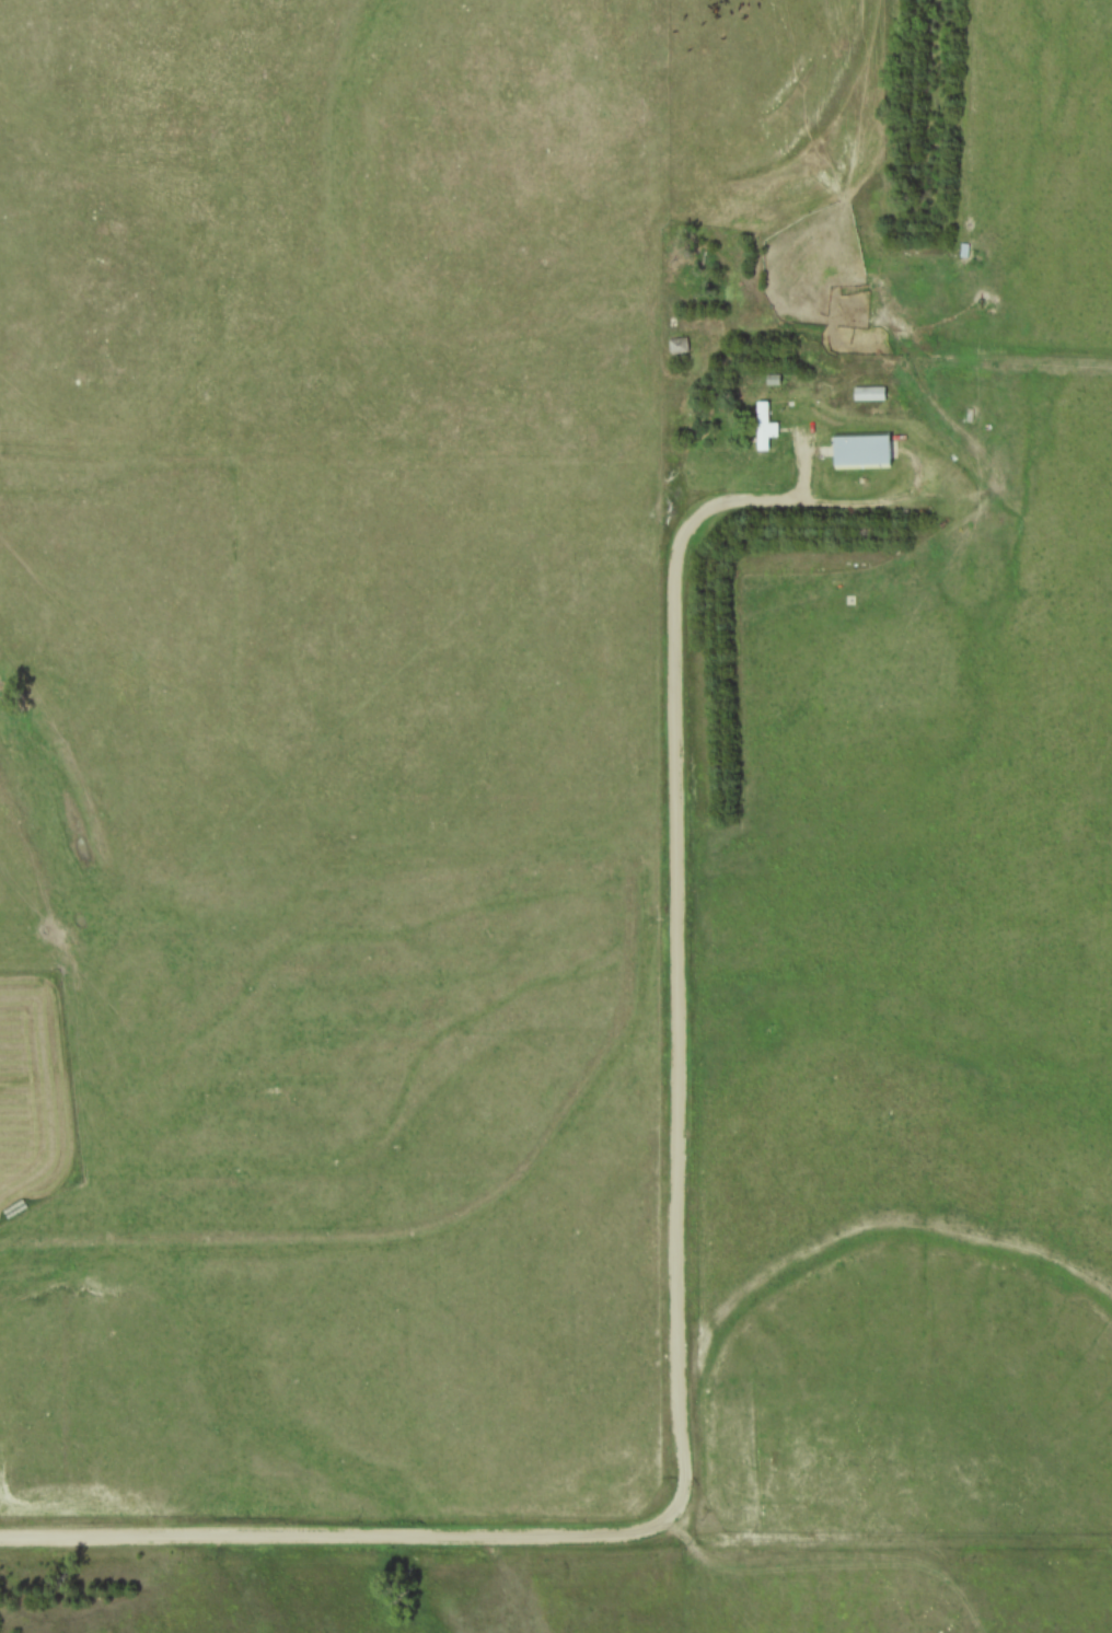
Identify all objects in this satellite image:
building: (679, 346)
building: (766, 429)
building: (867, 453)
road: (676, 998)
road: (252, 1536)

